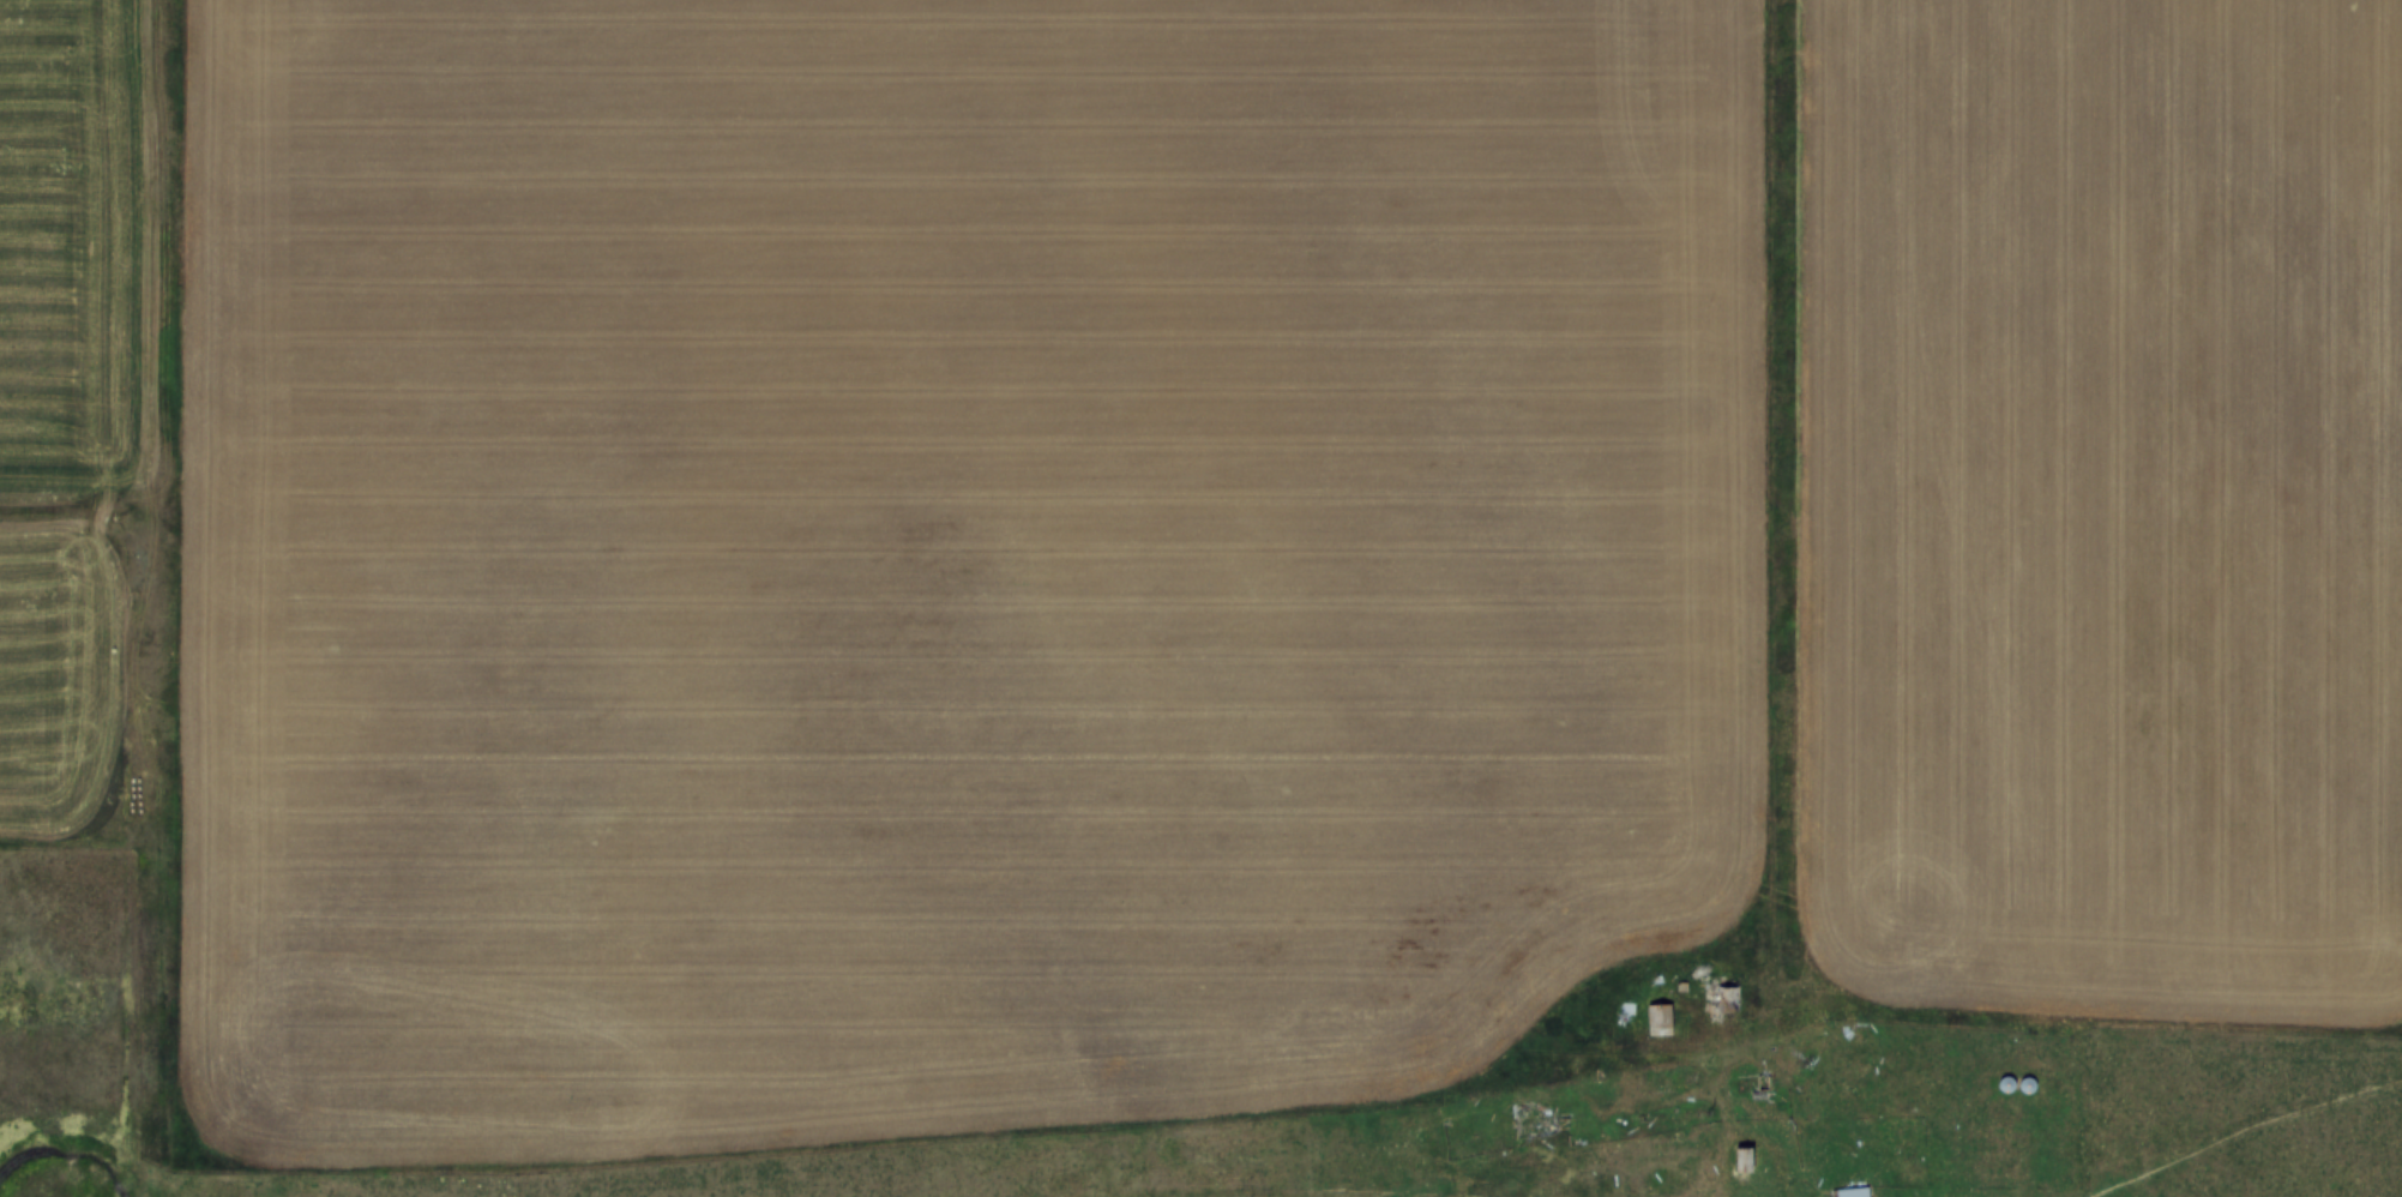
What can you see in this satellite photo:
road: (1778, 626)
building: (1535, 1117)
building: (1844, 1193)

